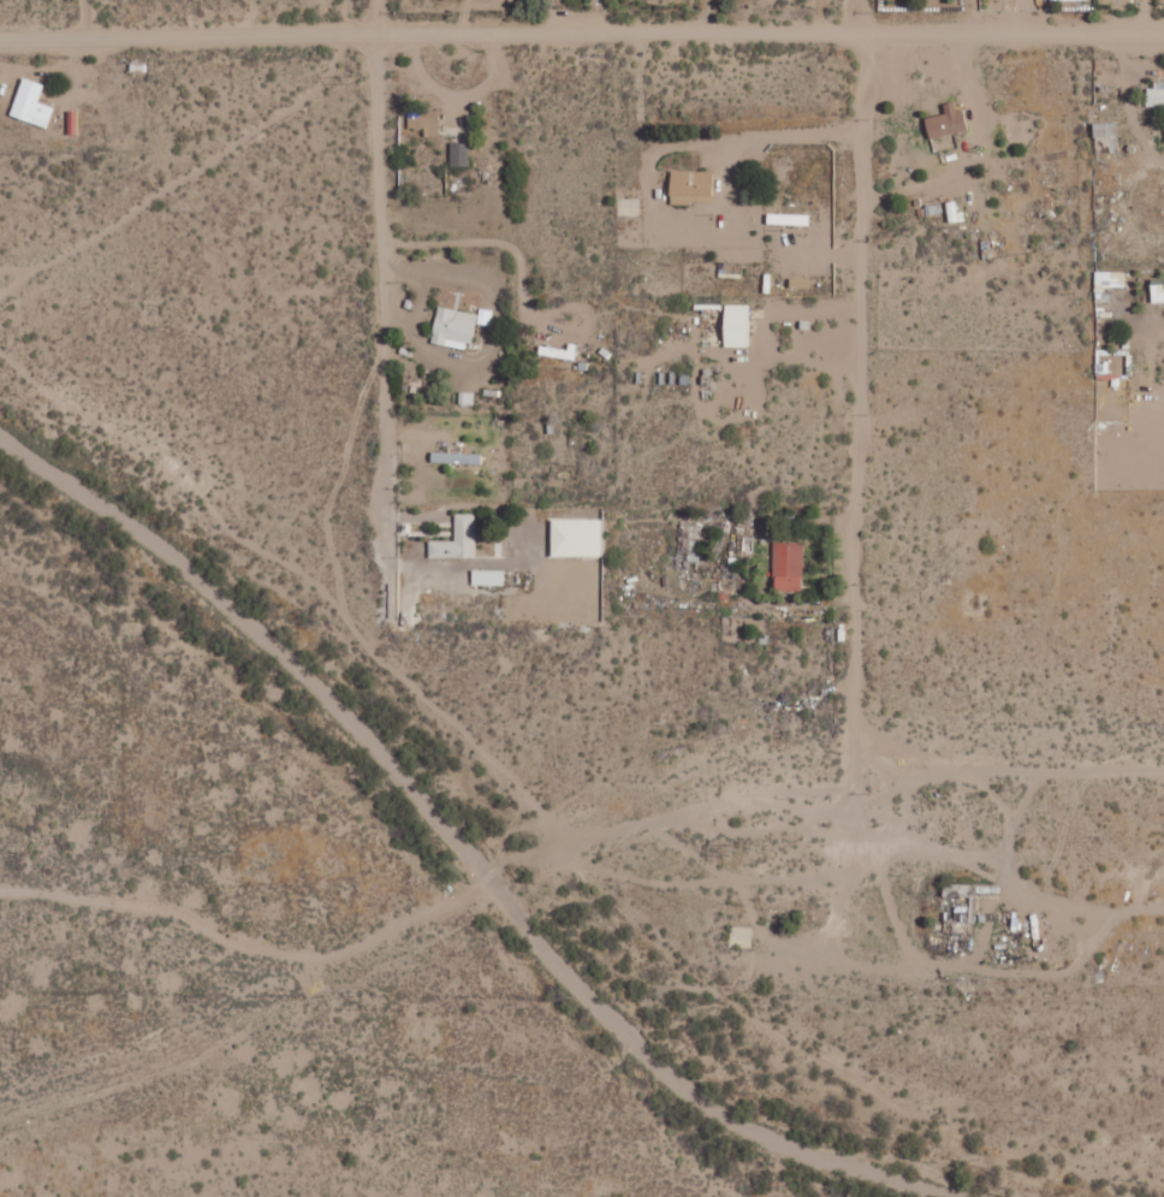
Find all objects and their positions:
road: (859, 14)
road: (581, 32)
building: (1154, 96)
building: (30, 103)
building: (72, 122)
building: (945, 123)
building: (1104, 130)
building: (458, 154)
building: (690, 188)
road: (381, 275)
building: (1110, 280)
building: (1157, 290)
building: (736, 325)
building: (452, 327)
building: (559, 351)
building: (456, 458)
building: (575, 538)
building: (457, 540)
building: (688, 544)
building: (788, 565)
building: (487, 577)
river: (449, 835)

